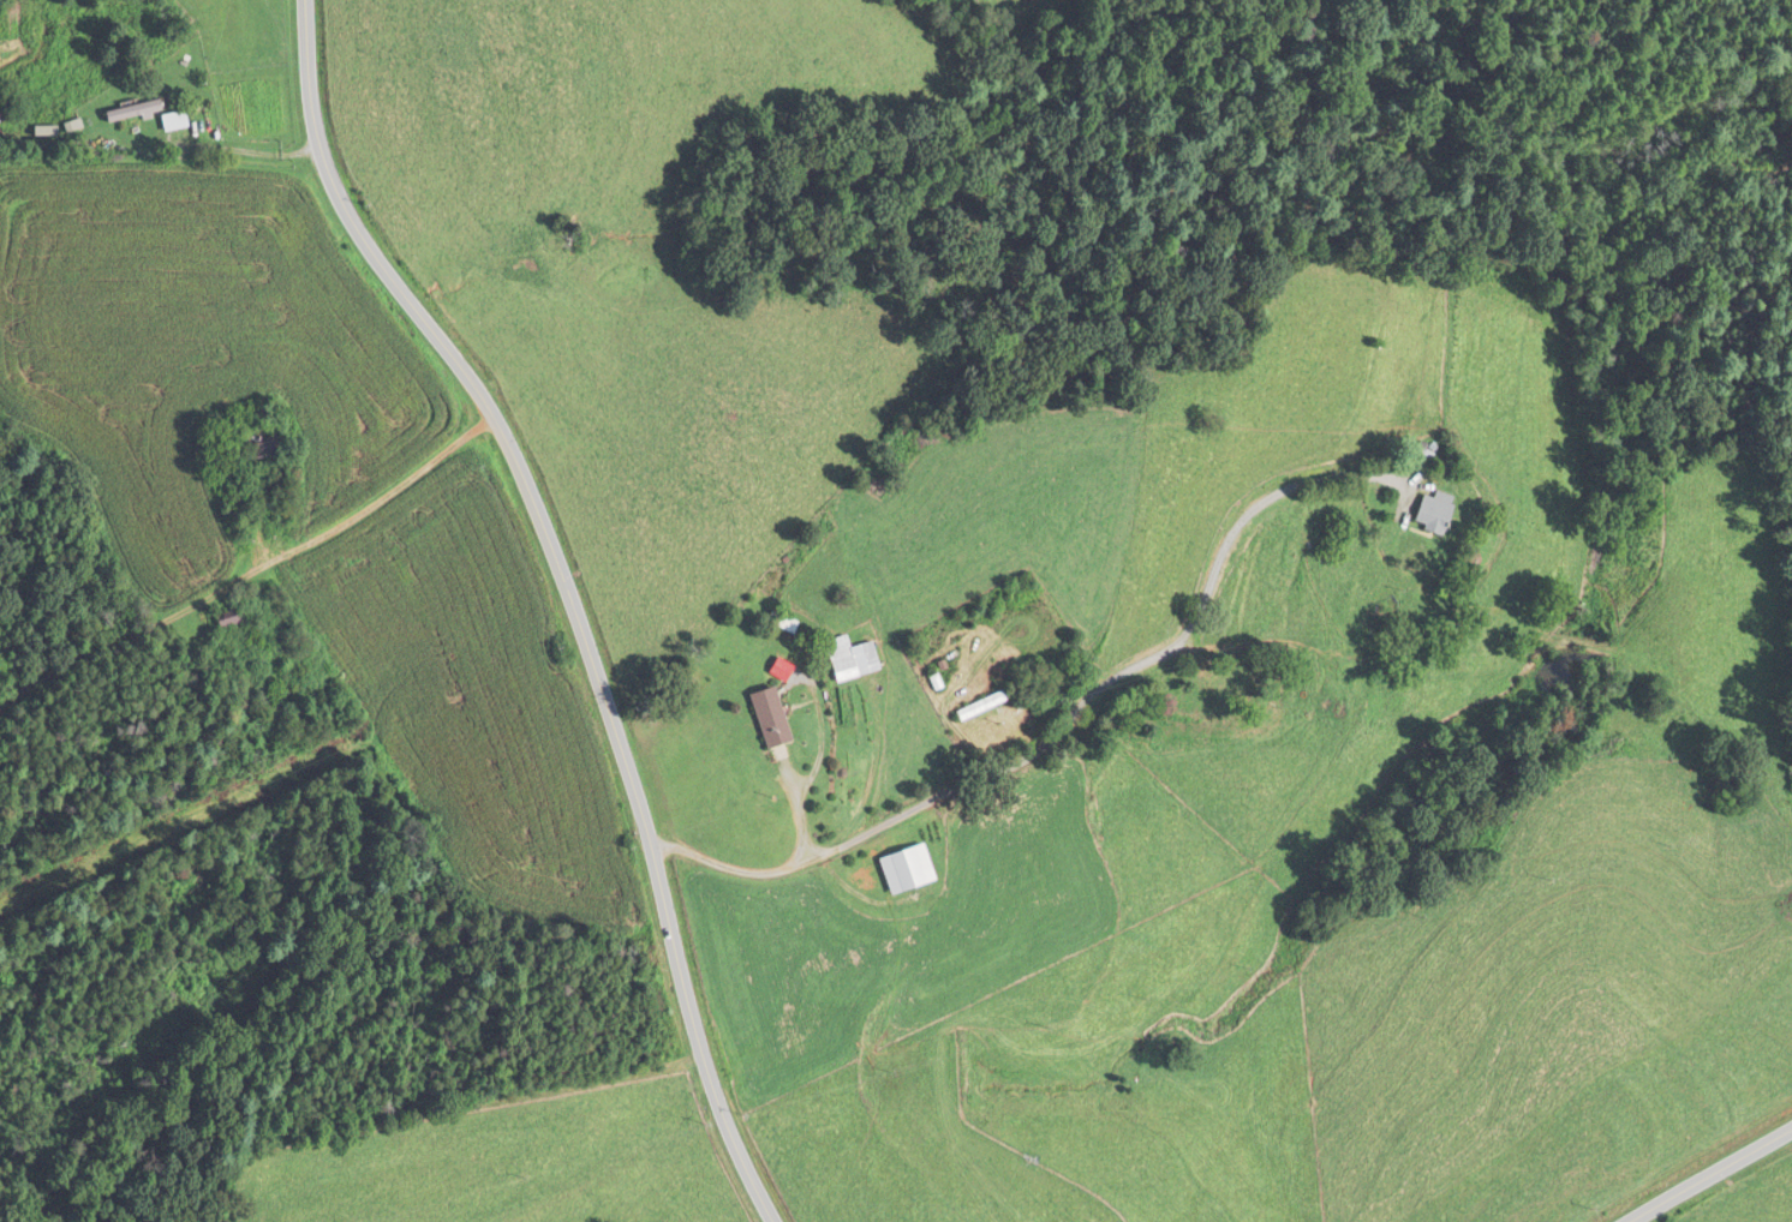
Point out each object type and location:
building: (123, 114)
building: (163, 122)
building: (1427, 513)
road: (244, 574)
road: (561, 593)
building: (220, 619)
building: (844, 658)
building: (1218, 681)
building: (974, 706)
building: (761, 717)
road: (1064, 725)
building: (900, 869)
road: (1709, 1173)

